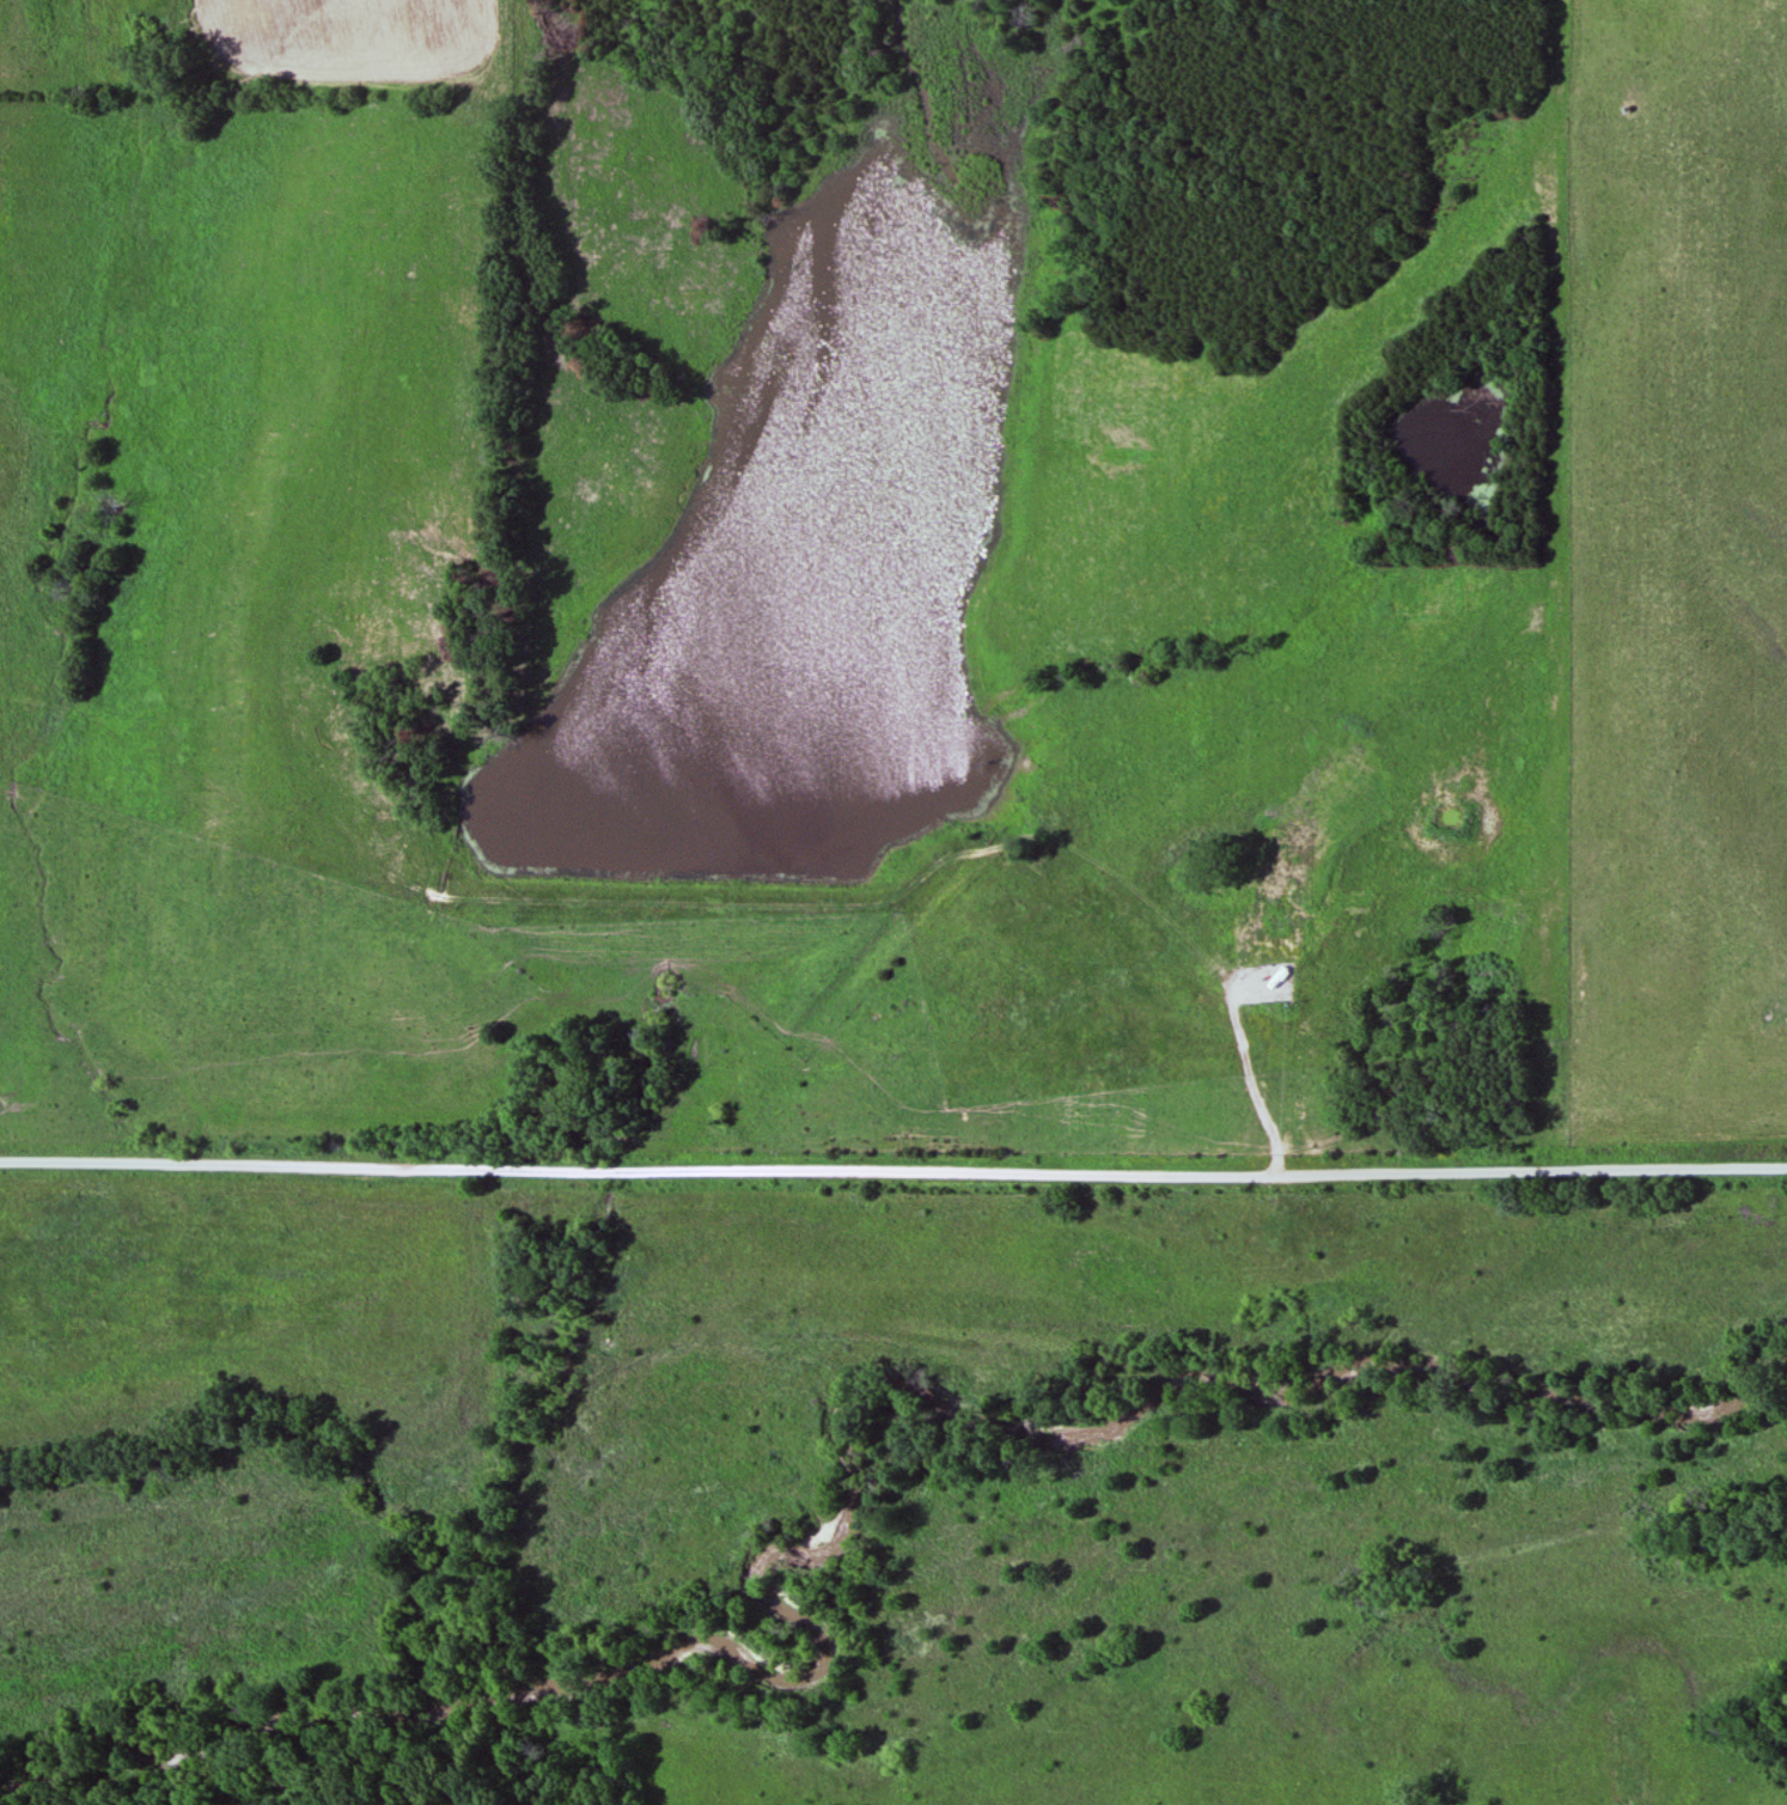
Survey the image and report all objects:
building: (1276, 916)
road: (1325, 1065)
road: (893, 1170)

